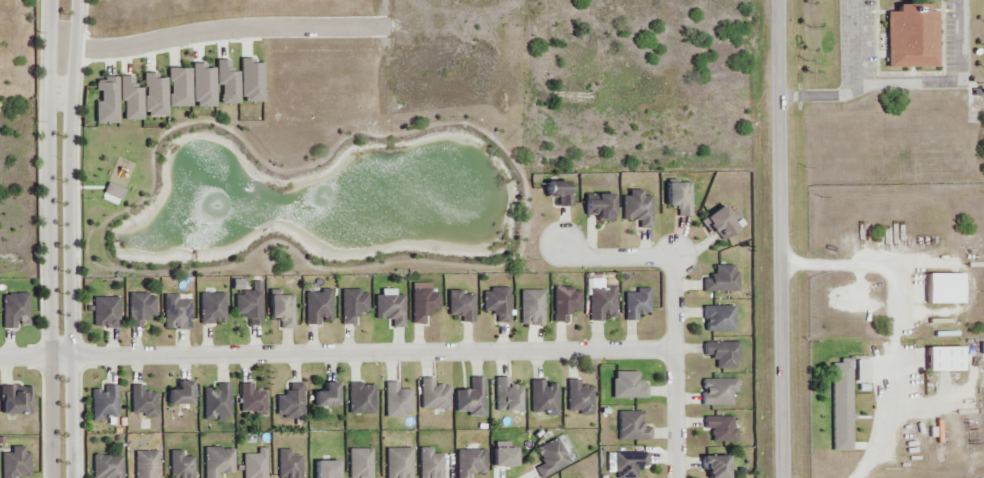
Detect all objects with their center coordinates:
building: (914, 37)
road: (164, 38)
road: (854, 45)
building: (251, 82)
building: (227, 83)
road: (910, 84)
building: (202, 88)
building: (180, 90)
building: (156, 96)
building: (129, 99)
building: (107, 102)
building: (560, 194)
building: (678, 198)
building: (600, 207)
building: (635, 210)
building: (723, 222)
road: (49, 238)
road: (70, 238)
road: (781, 238)
building: (724, 279)
building: (459, 305)
building: (566, 305)
building: (637, 305)
building: (424, 306)
building: (495, 306)
building: (603, 306)
building: (534, 307)
building: (248, 308)
building: (319, 308)
road: (674, 308)
building: (212, 309)
building: (284, 309)
building: (353, 309)
building: (388, 309)
building: (139, 311)
building: (104, 312)
building: (177, 312)
building: (12, 314)
building: (720, 318)
road: (337, 353)
building: (723, 354)
building: (627, 385)
building: (842, 388)
building: (718, 394)
building: (507, 395)
building: (182, 396)
building: (328, 397)
building: (433, 397)
building: (542, 397)
building: (248, 398)
building: (472, 398)
building: (15, 399)
building: (359, 399)
building: (580, 399)
building: (397, 400)
building: (214, 402)
building: (290, 402)
building: (141, 403)
building: (106, 404)
building: (631, 429)
building: (722, 430)
building: (506, 457)
building: (551, 457)
building: (216, 459)
building: (13, 461)
building: (398, 463)
building: (430, 463)
building: (252, 464)
building: (287, 464)
building: (361, 464)
building: (628, 464)
building: (177, 465)
building: (469, 465)
building: (105, 466)
building: (145, 466)
building: (718, 466)
building: (326, 469)

